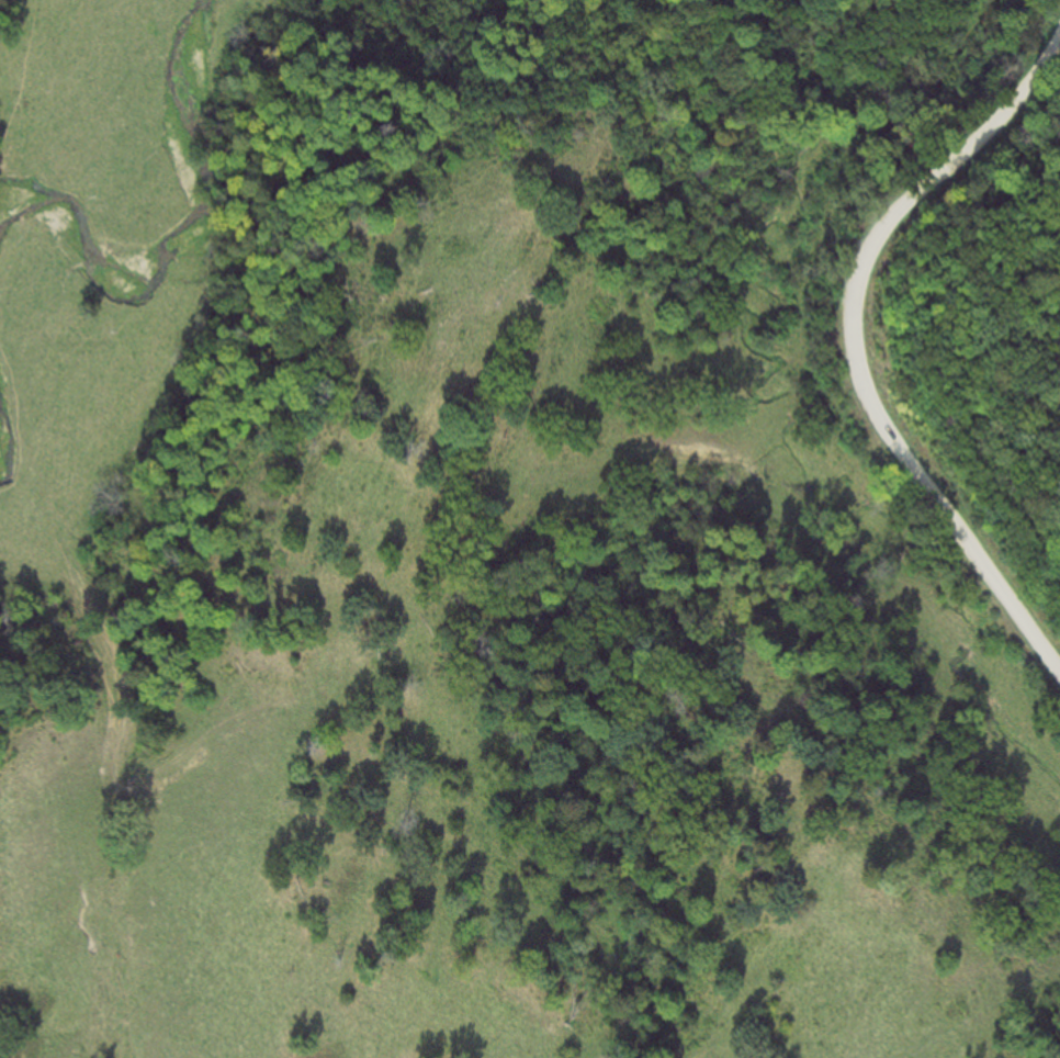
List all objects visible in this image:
road: (856, 347)

